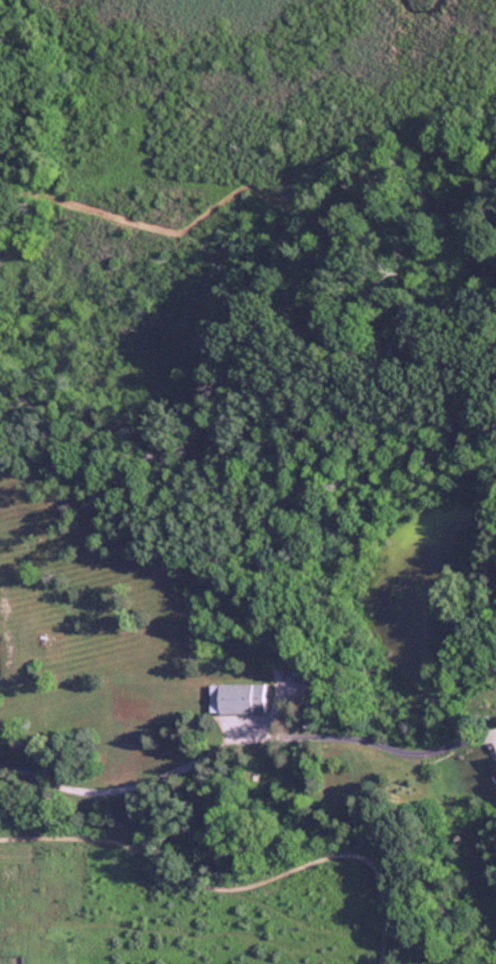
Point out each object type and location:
building: (236, 698)
road: (228, 739)
building: (493, 764)

